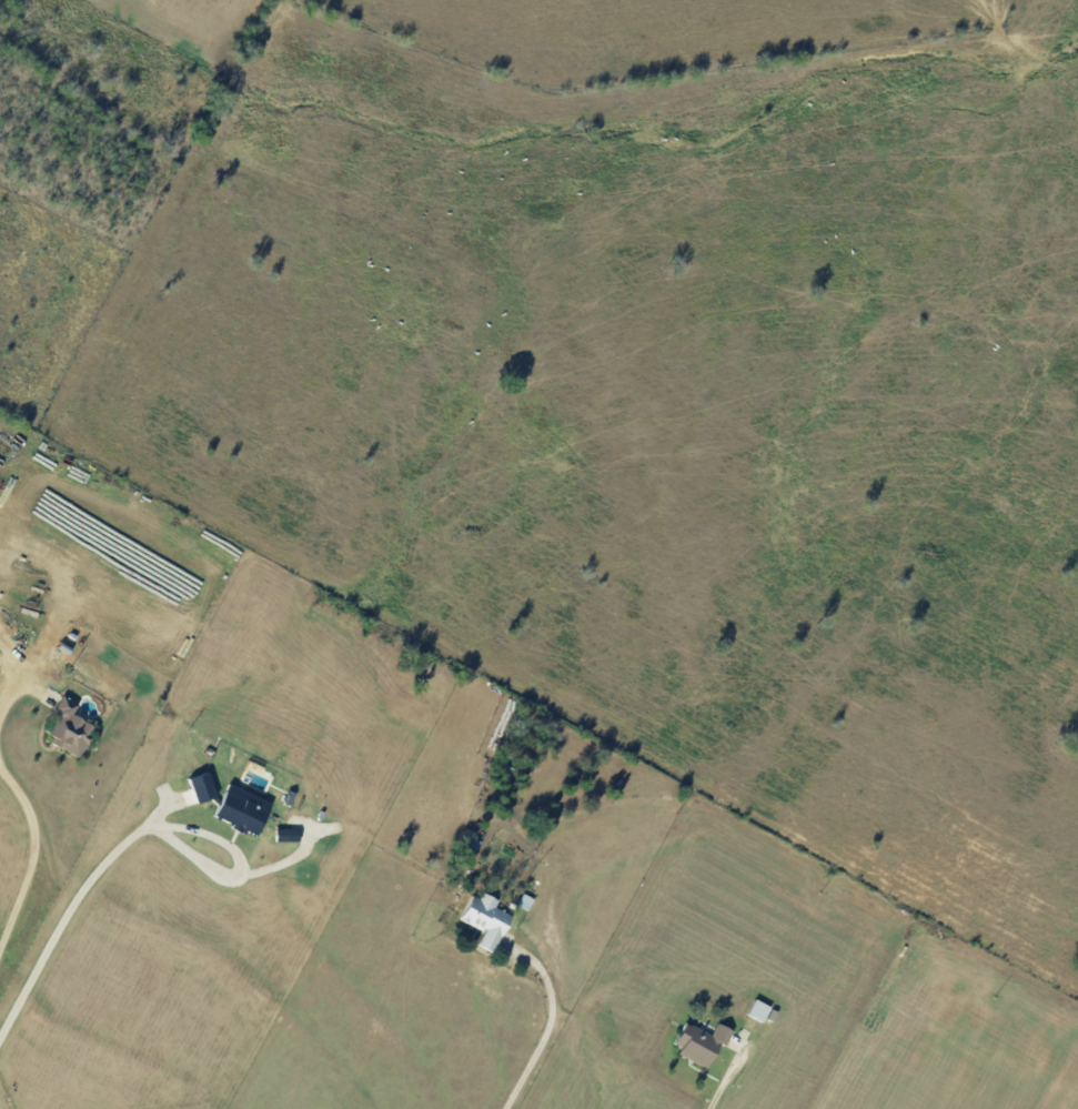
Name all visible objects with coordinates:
road: (8, 709)
building: (73, 726)
building: (205, 786)
building: (246, 808)
road: (32, 866)
road: (75, 913)
building: (488, 918)
road: (551, 1028)
building: (705, 1040)
road: (865, 1046)
road: (725, 1082)

